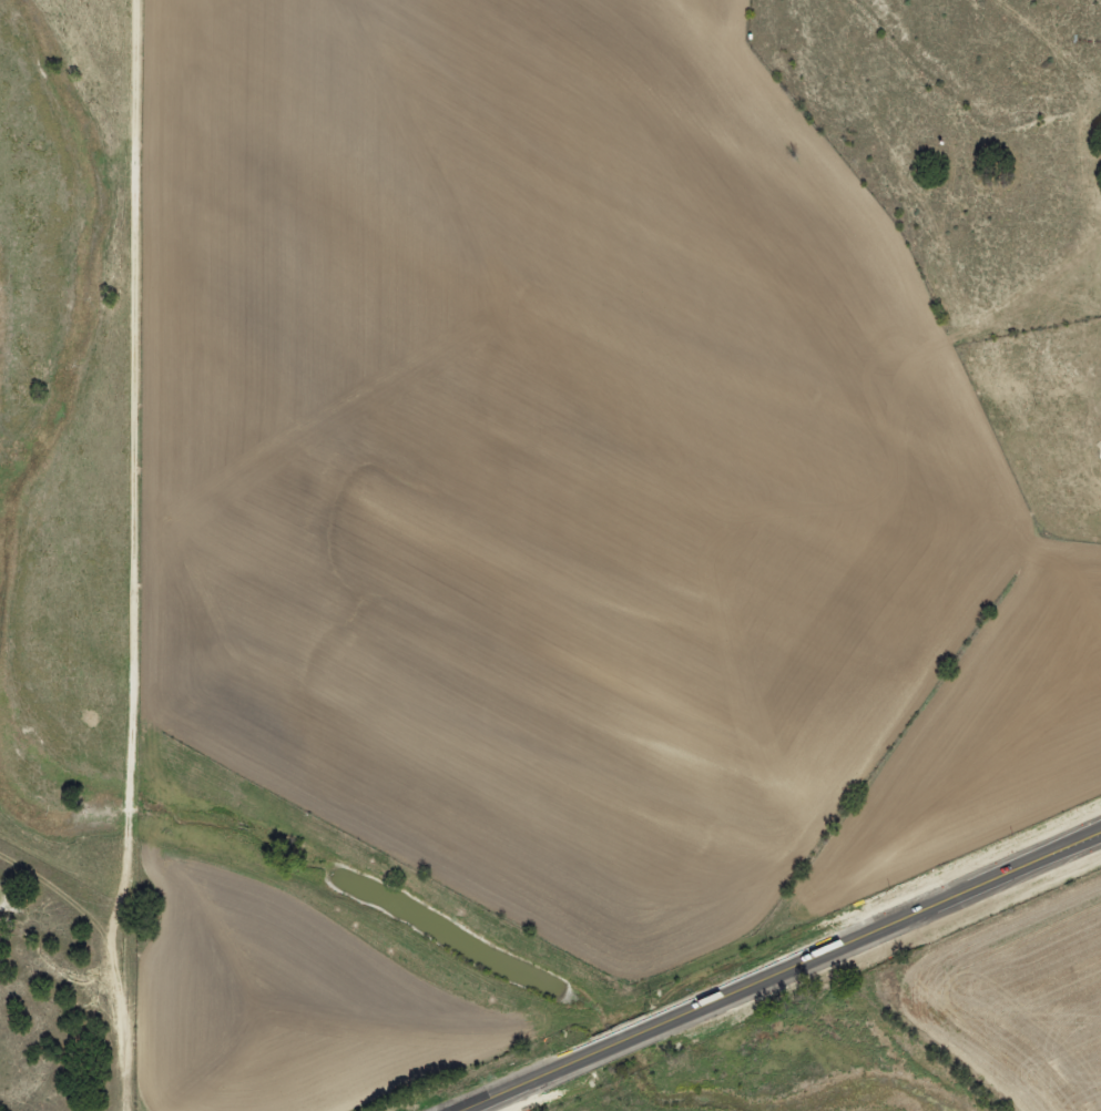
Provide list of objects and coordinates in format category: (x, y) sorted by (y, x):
road: (121, 554)
road: (766, 969)

